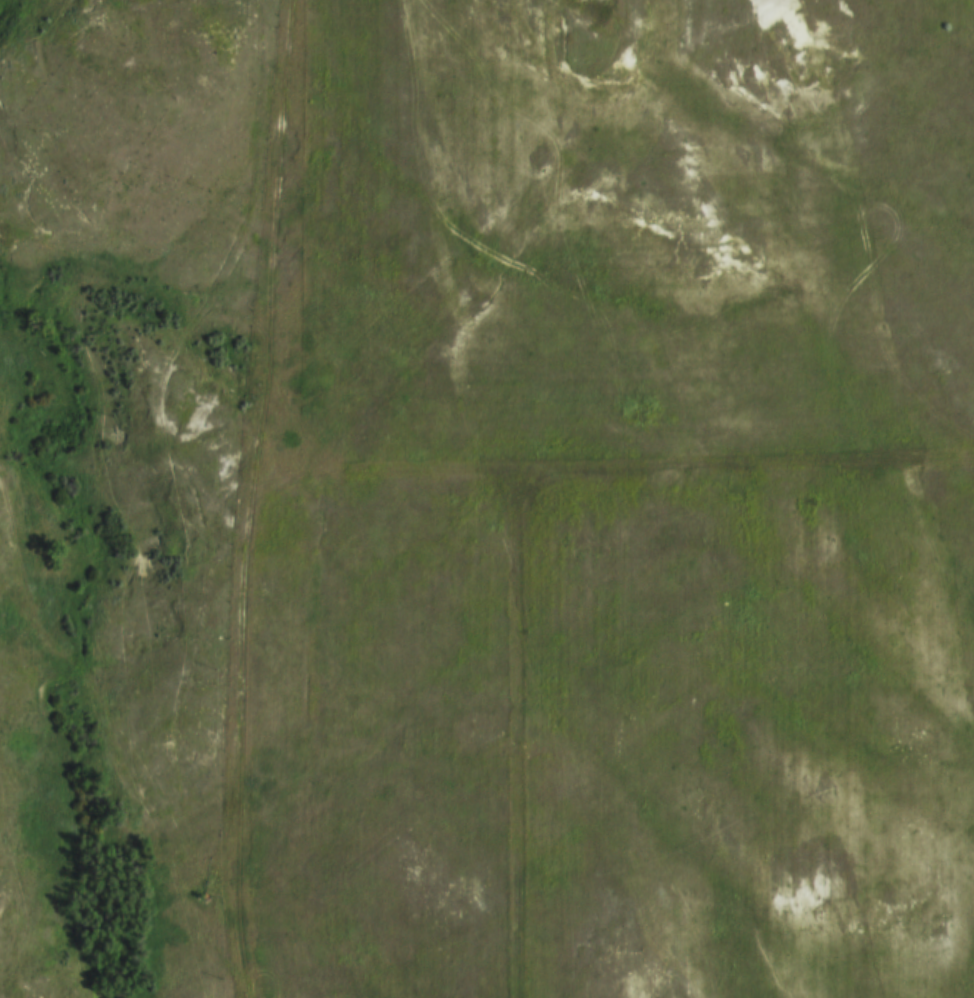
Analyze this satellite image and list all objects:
road: (251, 498)

